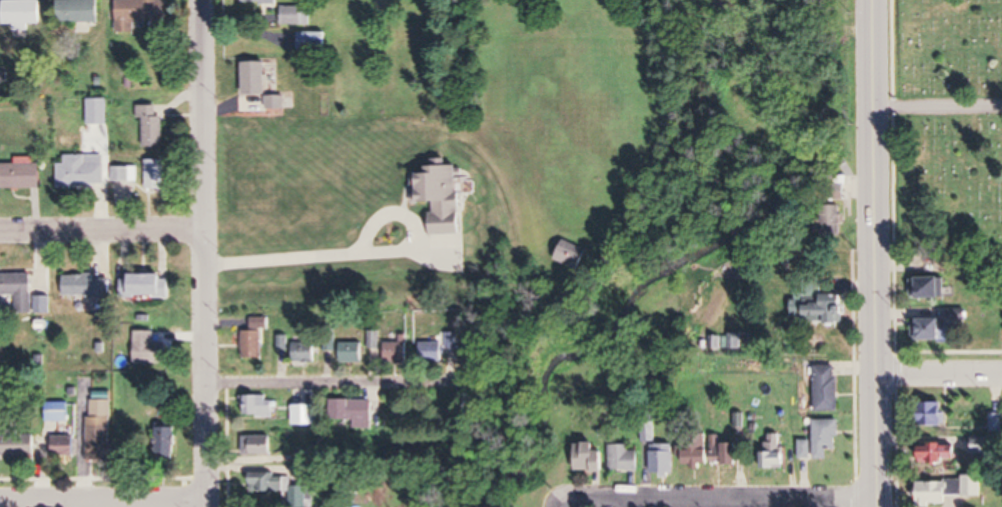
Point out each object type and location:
building: (262, 1)
building: (24, 11)
building: (79, 11)
building: (140, 11)
building: (296, 15)
building: (313, 41)
building: (257, 78)
road: (937, 109)
building: (153, 125)
park: (948, 125)
building: (83, 172)
building: (157, 174)
building: (24, 175)
building: (125, 175)
building: (443, 197)
building: (832, 220)
road: (101, 229)
road: (203, 253)
road: (872, 253)
road: (362, 255)
building: (147, 285)
building: (88, 286)
building: (928, 287)
building: (20, 289)
building: (821, 304)
building: (261, 323)
building: (929, 328)
building: (374, 339)
building: (733, 340)
building: (253, 344)
building: (331, 344)
building: (152, 349)
building: (397, 351)
building: (432, 351)
building: (306, 352)
building: (352, 352)
road: (937, 375)
road: (322, 383)
building: (828, 388)
building: (261, 405)
building: (102, 408)
building: (353, 411)
building: (310, 413)
building: (933, 413)
building: (996, 422)
building: (826, 437)
building: (167, 441)
building: (100, 443)
building: (18, 444)
building: (262, 444)
building: (64, 445)
building: (982, 445)
building: (805, 450)
building: (709, 451)
building: (775, 453)
building: (940, 453)
building: (591, 456)
building: (624, 458)
building: (663, 458)
building: (284, 488)
building: (947, 489)
road: (716, 497)
road: (103, 499)
road: (557, 503)

